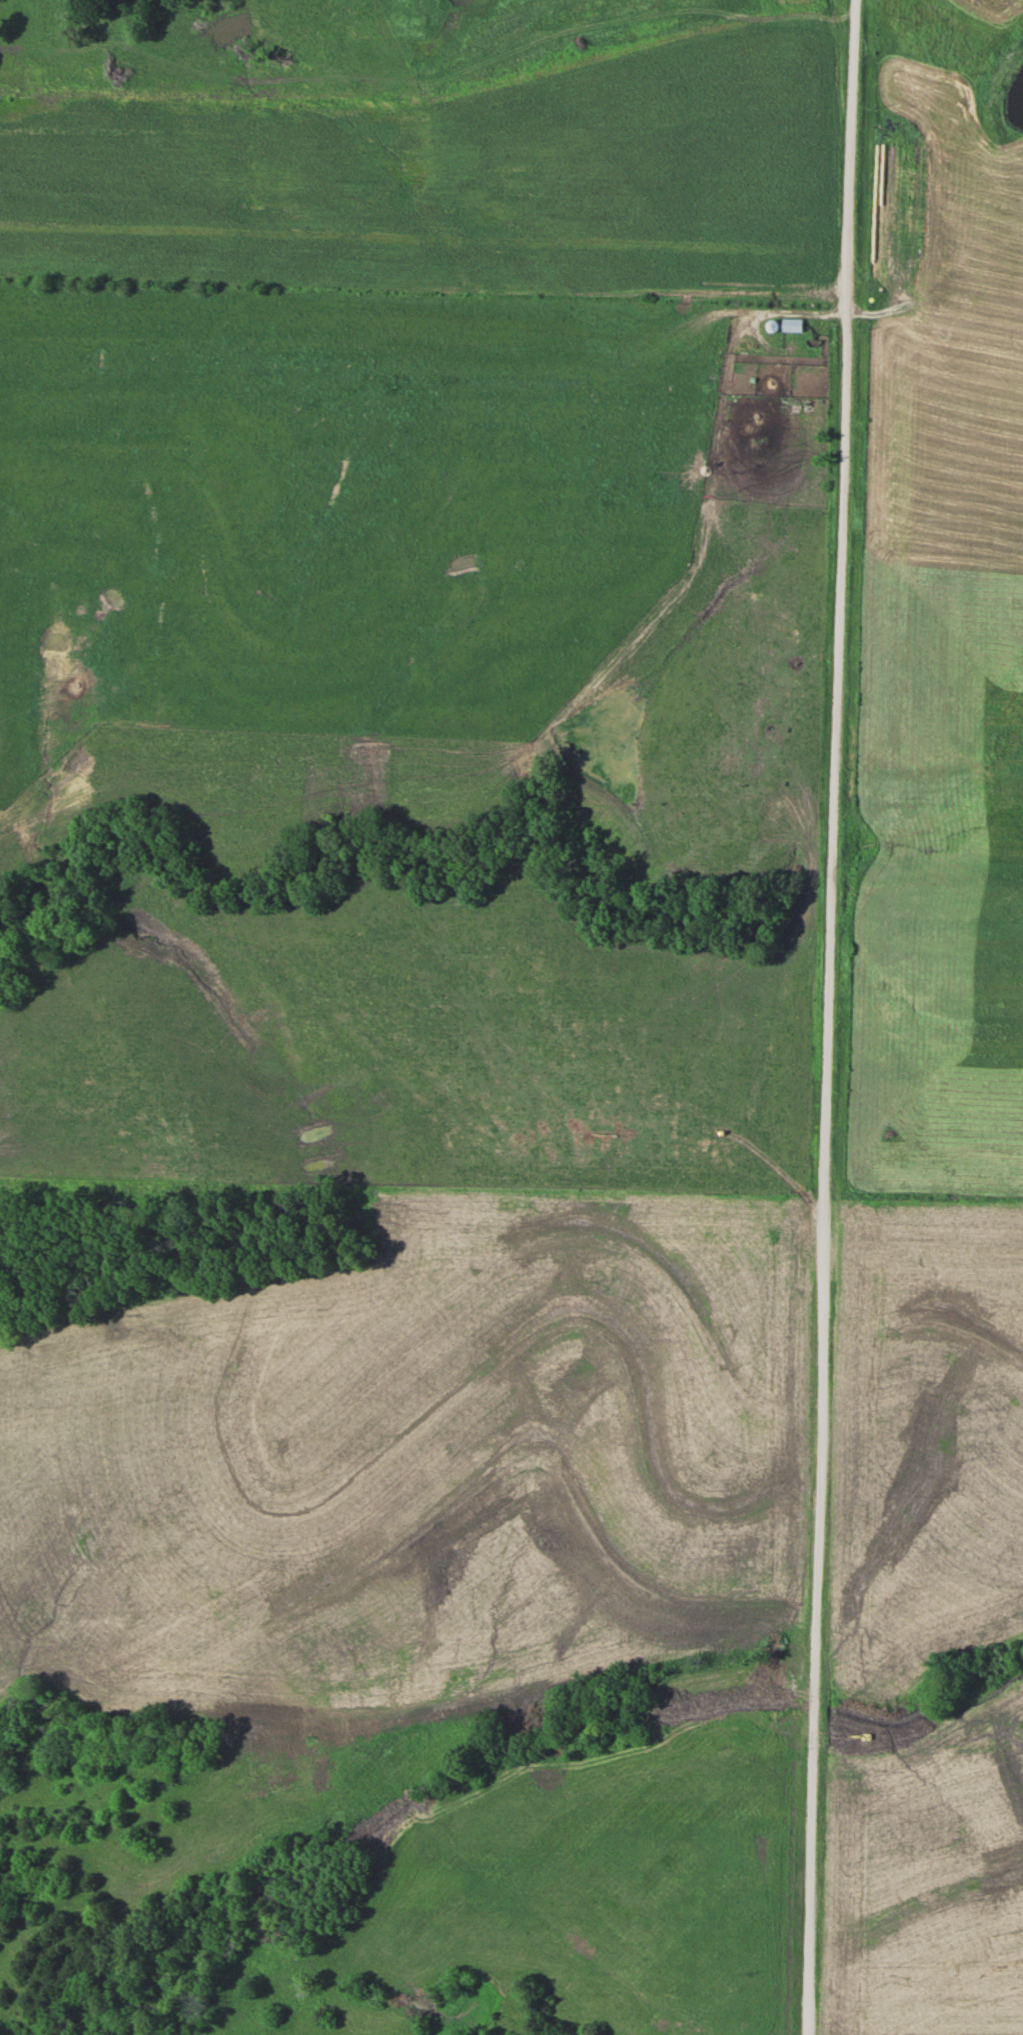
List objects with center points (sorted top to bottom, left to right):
building: (788, 326)
road: (828, 1017)

